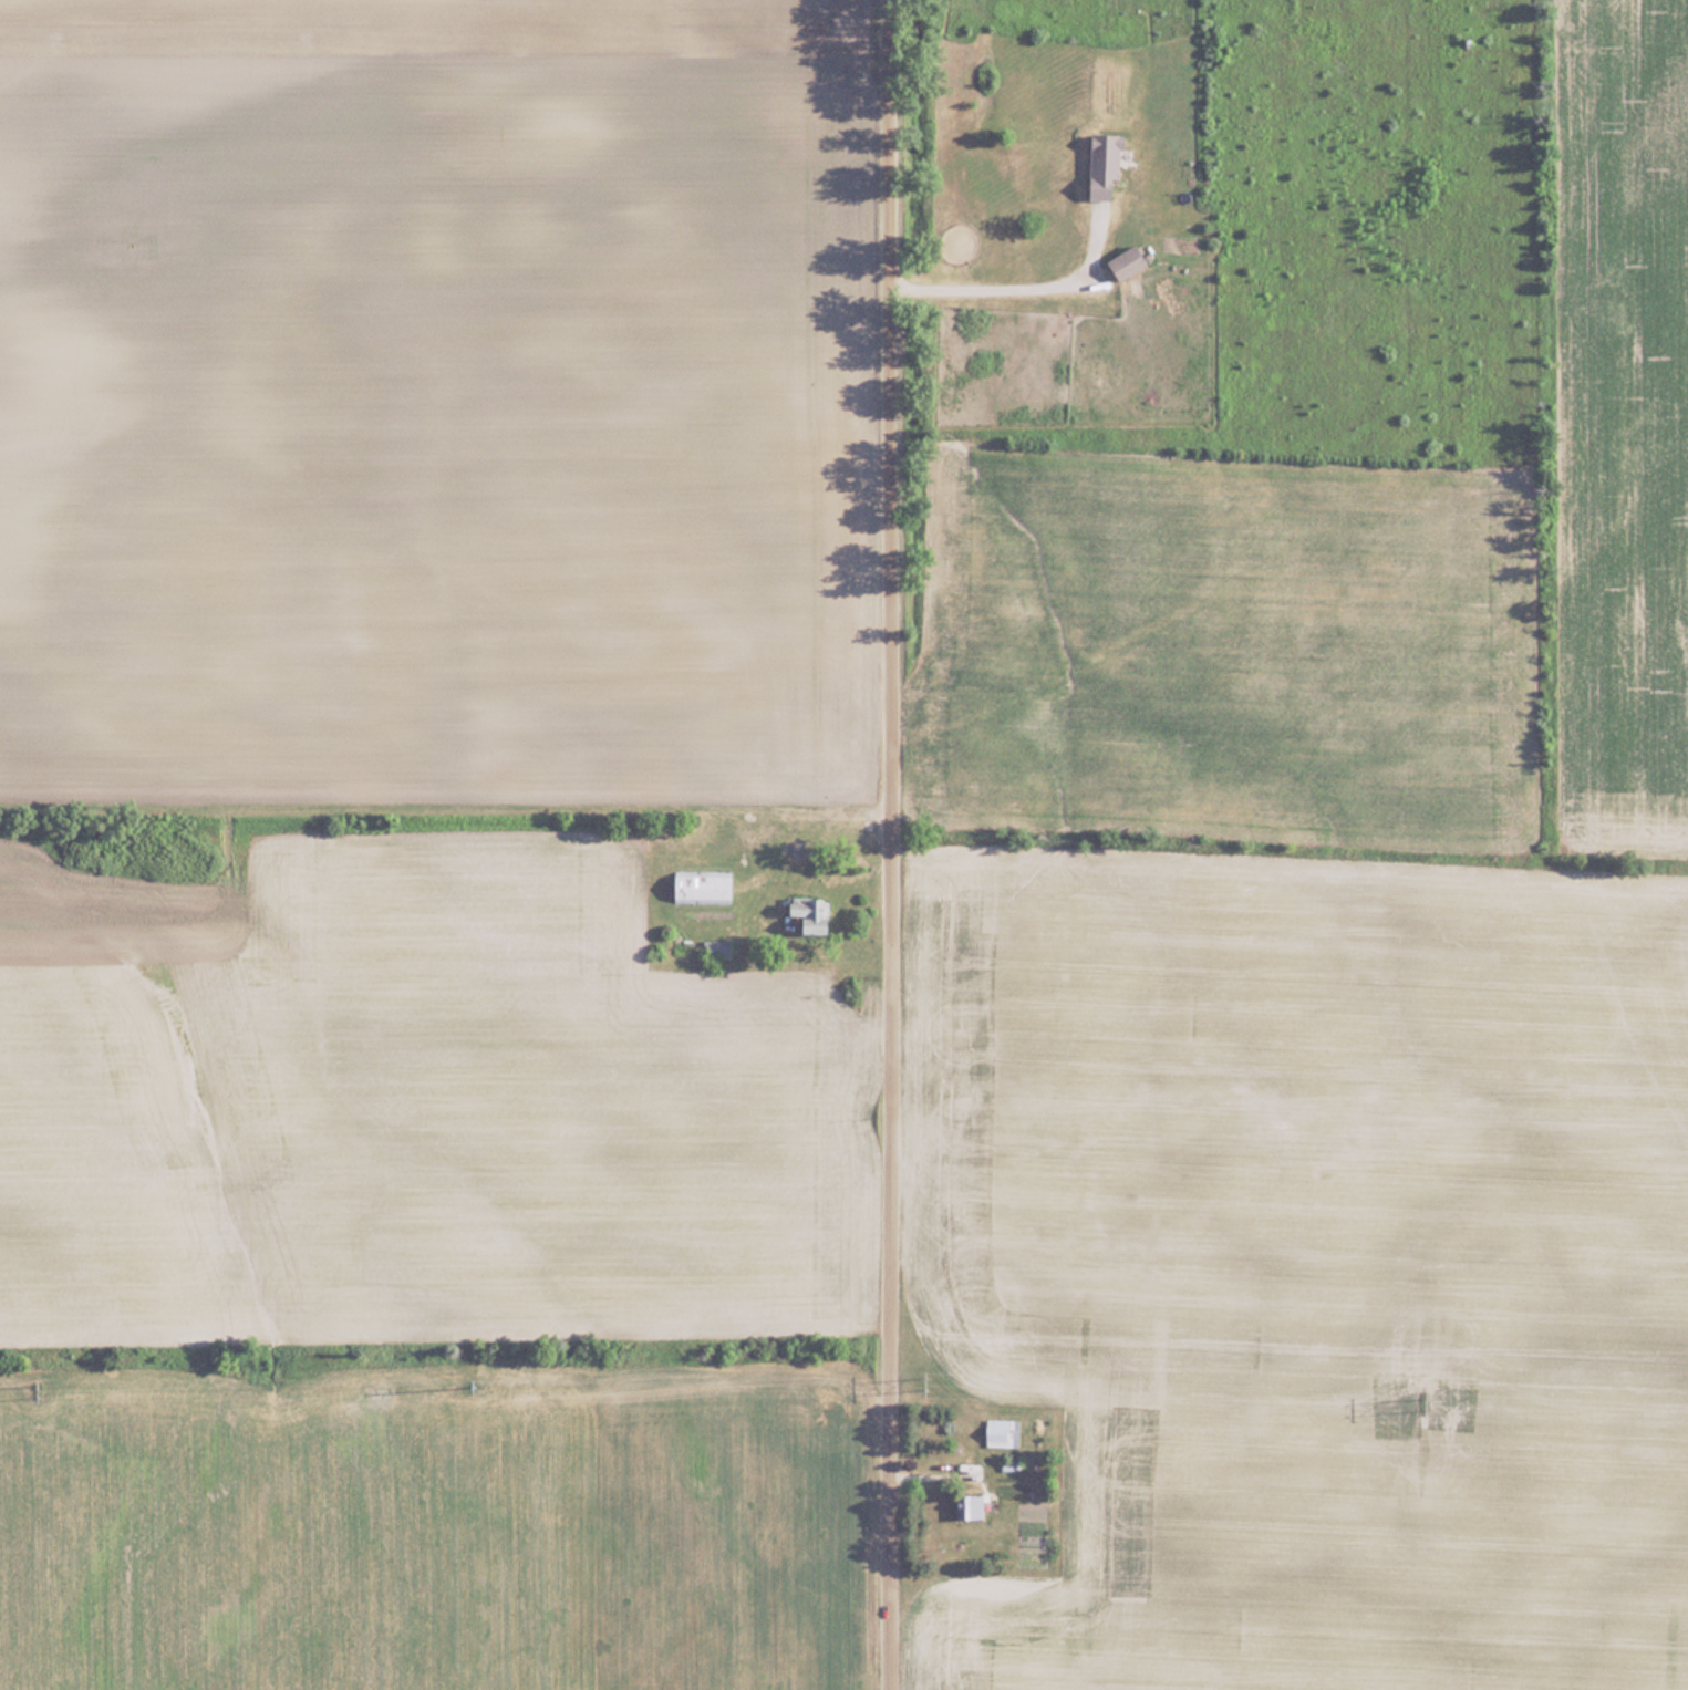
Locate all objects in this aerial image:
building: (1105, 166)
building: (1128, 261)
road: (1012, 272)
road: (897, 844)
building: (703, 887)
building: (811, 913)
building: (716, 947)
power tower: (476, 1385)
power tower: (931, 1386)
power tower: (40, 1387)
power tower: (1426, 1401)
building: (1002, 1432)
building: (971, 1471)
building: (974, 1505)

